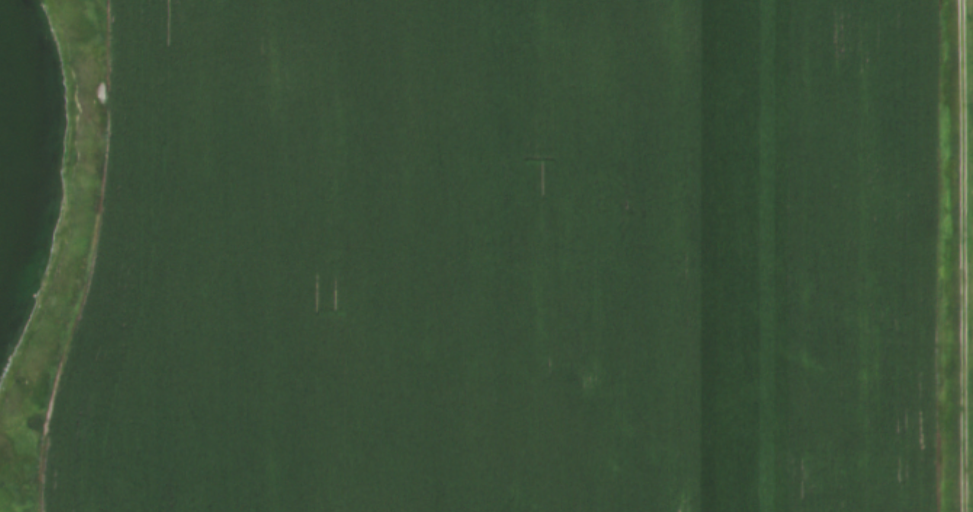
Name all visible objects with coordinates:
road: (968, 255)

